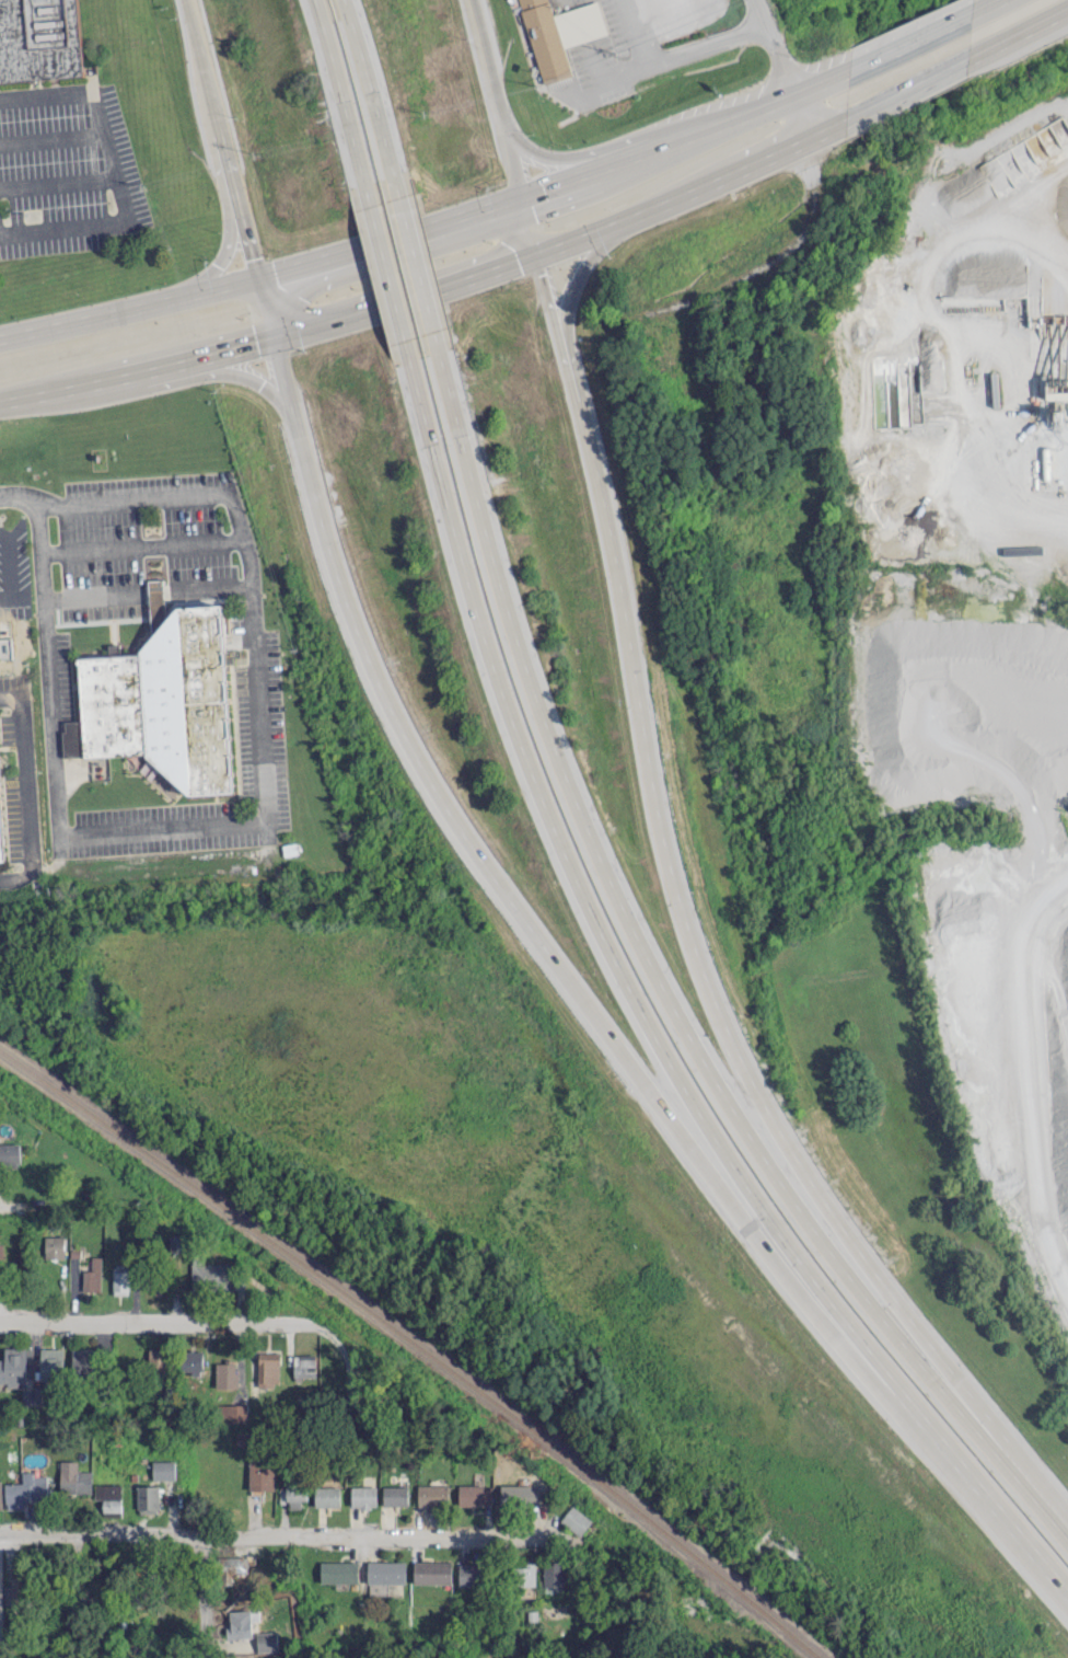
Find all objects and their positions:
road: (977, 7)
building: (0, 22)
road: (1013, 35)
building: (545, 39)
building: (44, 41)
road: (902, 41)
road: (779, 44)
road: (681, 54)
road: (488, 61)
road: (899, 91)
road: (371, 97)
road: (770, 101)
road: (343, 103)
road: (804, 112)
road: (825, 127)
road: (54, 138)
road: (599, 149)
road: (119, 172)
road: (232, 173)
road: (60, 183)
traffic signals: (527, 200)
road: (526, 204)
road: (567, 237)
road: (232, 240)
traffic signals: (537, 249)
road: (356, 253)
road: (775, 257)
road: (415, 264)
road: (578, 270)
road: (385, 272)
traffic signals: (262, 279)
traffic signals: (275, 330)
road: (159, 358)
road: (185, 373)
road: (18, 495)
road: (141, 543)
road: (8, 562)
road: (147, 591)
road: (21, 596)
building: (159, 605)
quarry: (975, 634)
building: (165, 702)
road: (25, 792)
building: (2, 811)
road: (254, 819)
road: (516, 901)
road: (674, 905)
road: (659, 983)
road: (635, 1015)
building: (9, 1154)
building: (176, 1242)
building: (54, 1246)
building: (1, 1251)
building: (93, 1275)
building: (213, 1276)
building: (120, 1278)
road: (147, 1319)
railway: (417, 1343)
building: (82, 1360)
building: (158, 1360)
building: (191, 1361)
building: (51, 1362)
building: (304, 1365)
building: (13, 1366)
building: (268, 1368)
building: (225, 1373)
building: (32, 1397)
building: (231, 1413)
road: (47, 1427)
building: (242, 1438)
building: (163, 1469)
building: (260, 1474)
building: (73, 1477)
building: (25, 1489)
building: (0, 1494)
building: (432, 1494)
building: (475, 1494)
building: (520, 1494)
building: (295, 1495)
building: (395, 1495)
building: (327, 1496)
building: (363, 1496)
building: (109, 1498)
building: (148, 1498)
building: (576, 1519)
road: (274, 1535)
building: (233, 1564)
building: (339, 1570)
building: (385, 1571)
building: (431, 1571)
building: (553, 1573)
building: (469, 1574)
building: (526, 1575)
building: (19, 1588)
road: (205, 1597)
building: (243, 1627)
building: (0, 1632)
building: (267, 1640)

